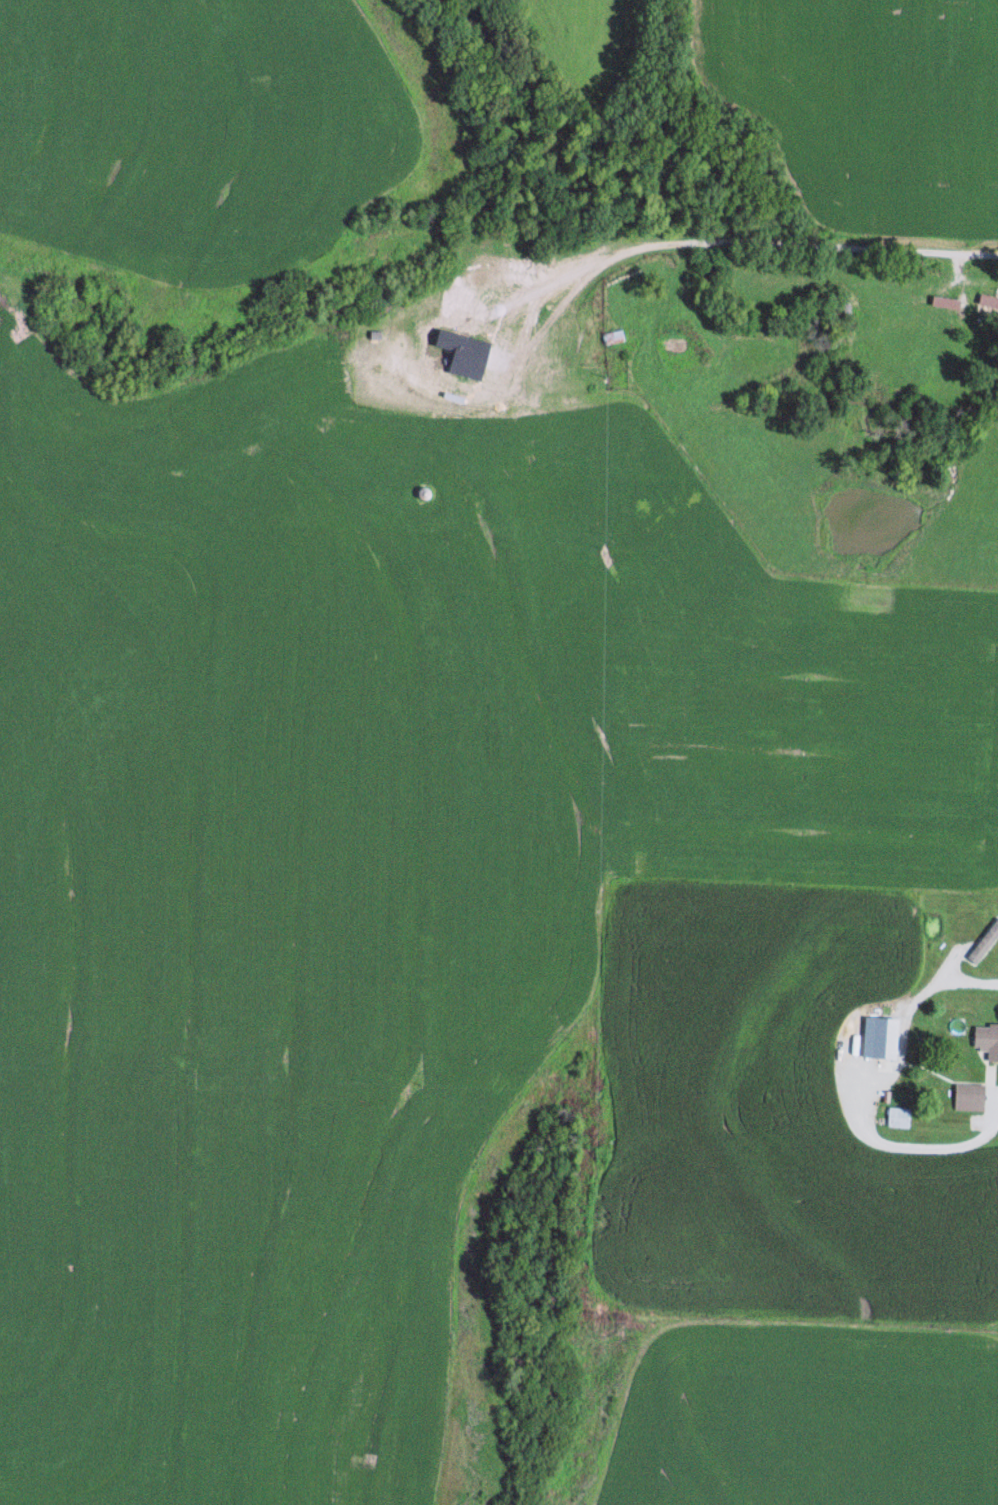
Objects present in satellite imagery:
road: (717, 239)
building: (985, 307)
building: (610, 338)
building: (985, 1042)
building: (965, 1098)
building: (895, 1119)

